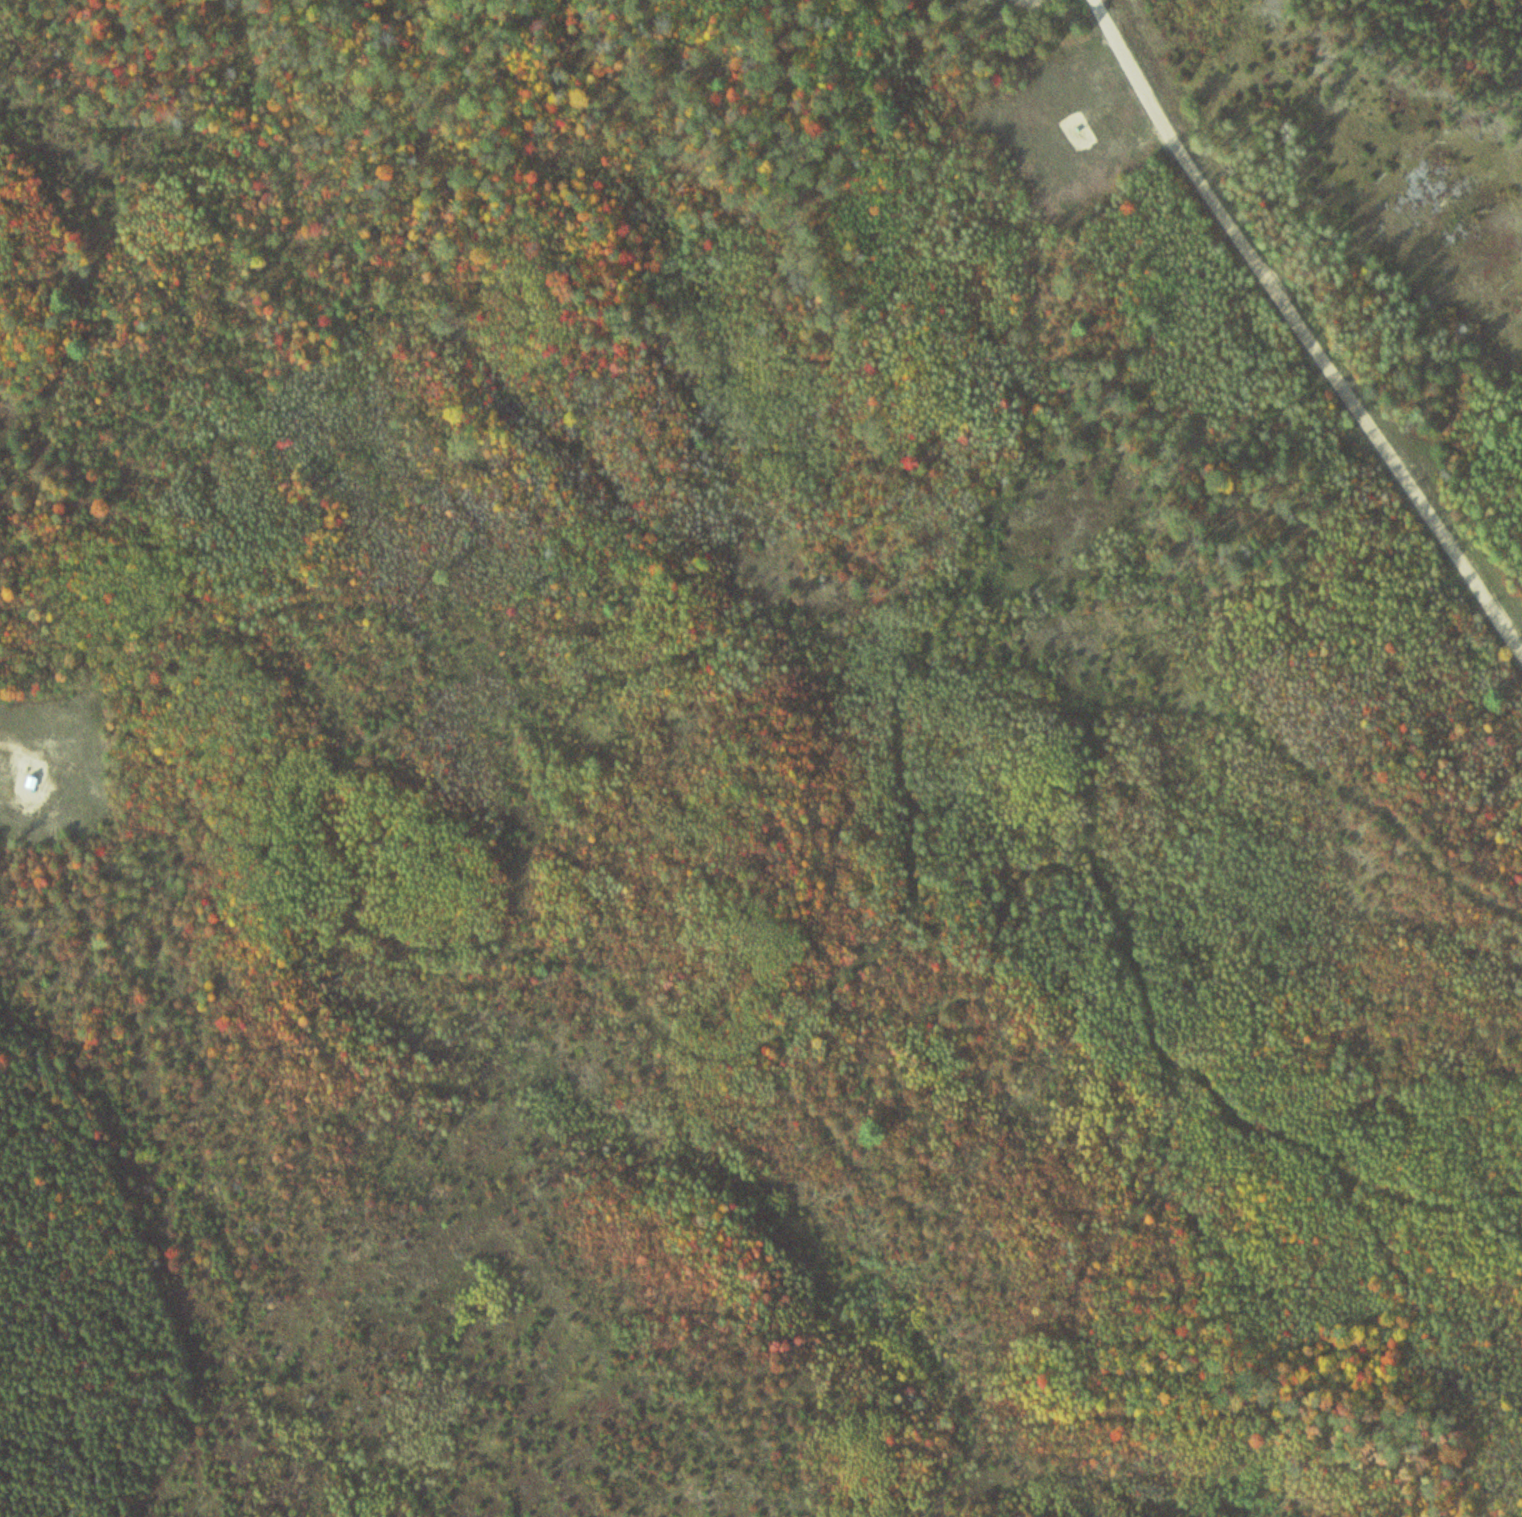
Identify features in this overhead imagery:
petroleum well: (1084, 122)
road: (1298, 315)
road: (8, 750)
petroleum well: (34, 776)
building: (35, 782)

